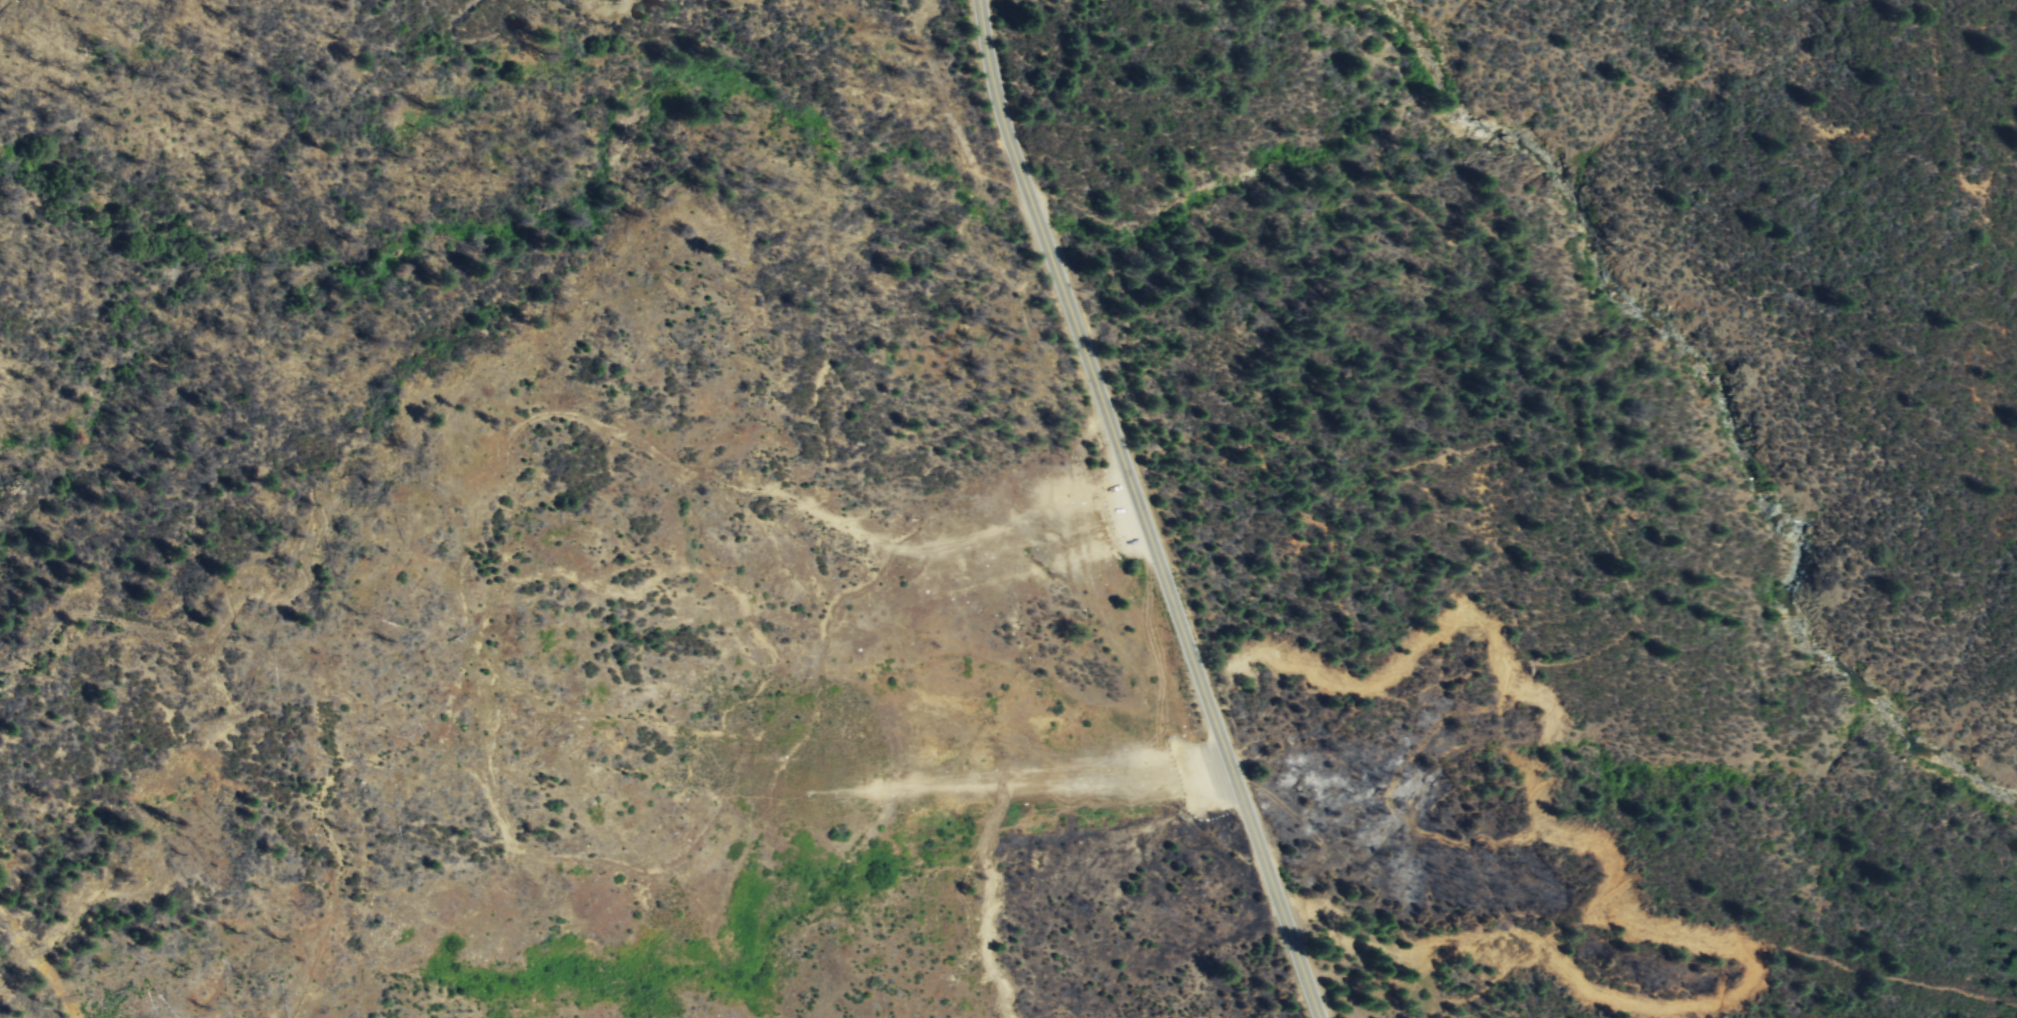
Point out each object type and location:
road: (499, 176)
road: (1147, 510)
road: (38, 961)

